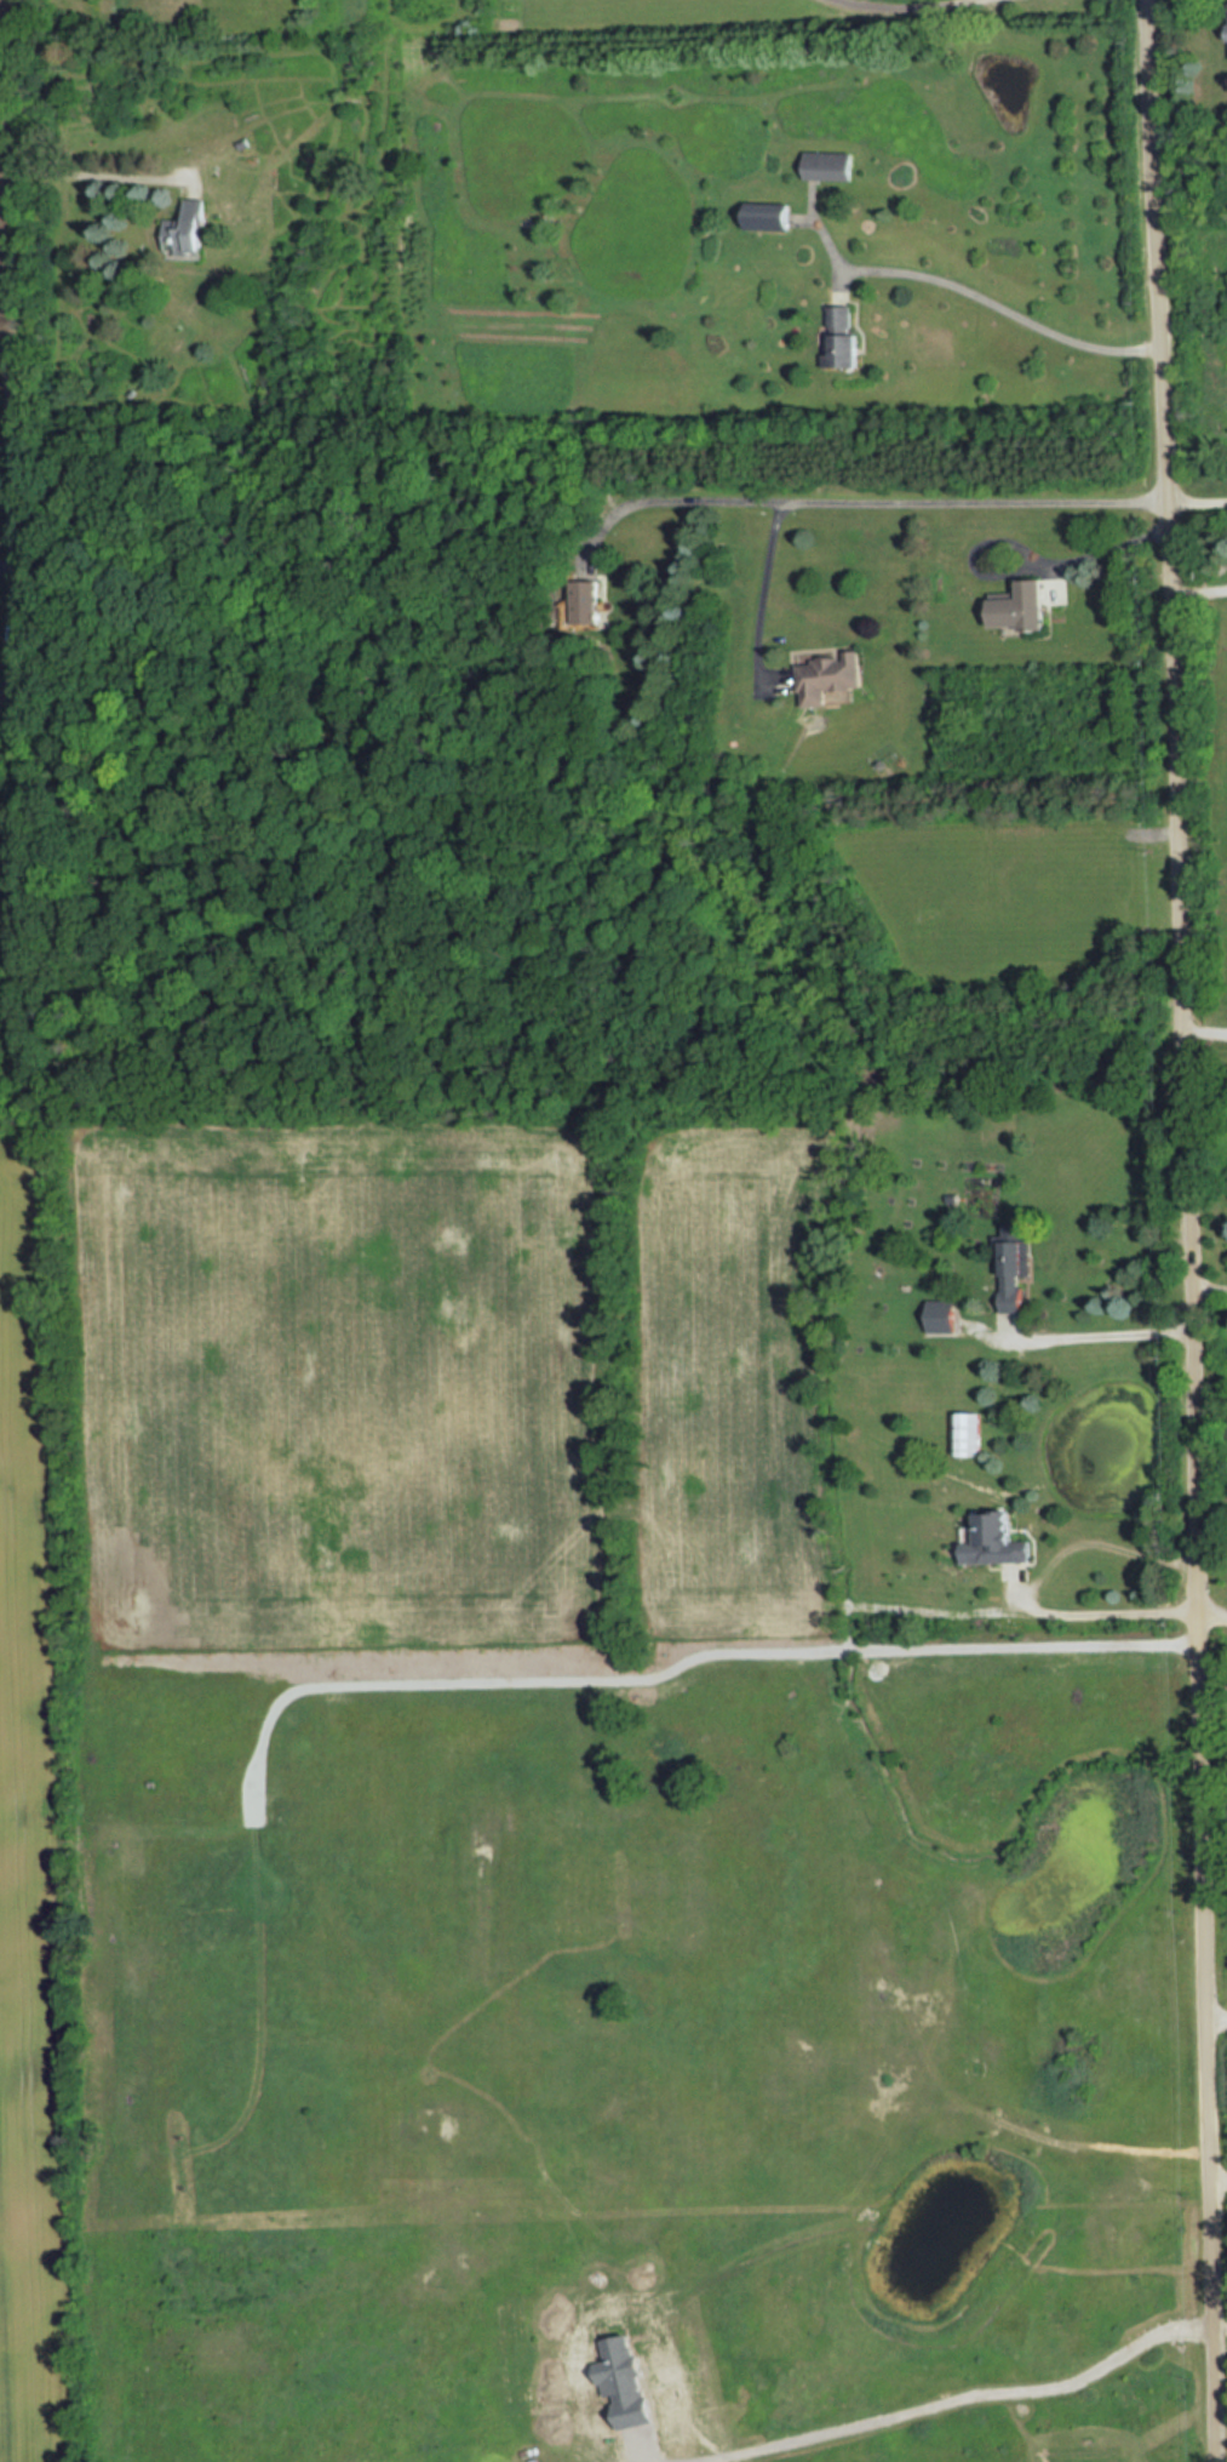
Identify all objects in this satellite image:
road: (898, 8)
building: (824, 168)
road: (101, 173)
building: (763, 218)
building: (183, 235)
road: (1003, 307)
building: (837, 332)
road: (5, 335)
road: (11, 349)
road: (848, 501)
road: (1196, 503)
road: (7, 559)
road: (1027, 561)
building: (583, 600)
road: (757, 600)
building: (1019, 605)
building: (824, 675)
road: (1203, 1027)
road: (1186, 1230)
building: (1009, 1274)
road: (1208, 1286)
building: (939, 1320)
road: (1095, 1335)
building: (962, 1435)
building: (988, 1542)
road: (1106, 1609)
road: (1210, 1615)
road: (1215, 2016)
road: (1217, 2178)
road: (1220, 2324)
road: (963, 2397)
road: (637, 2450)

